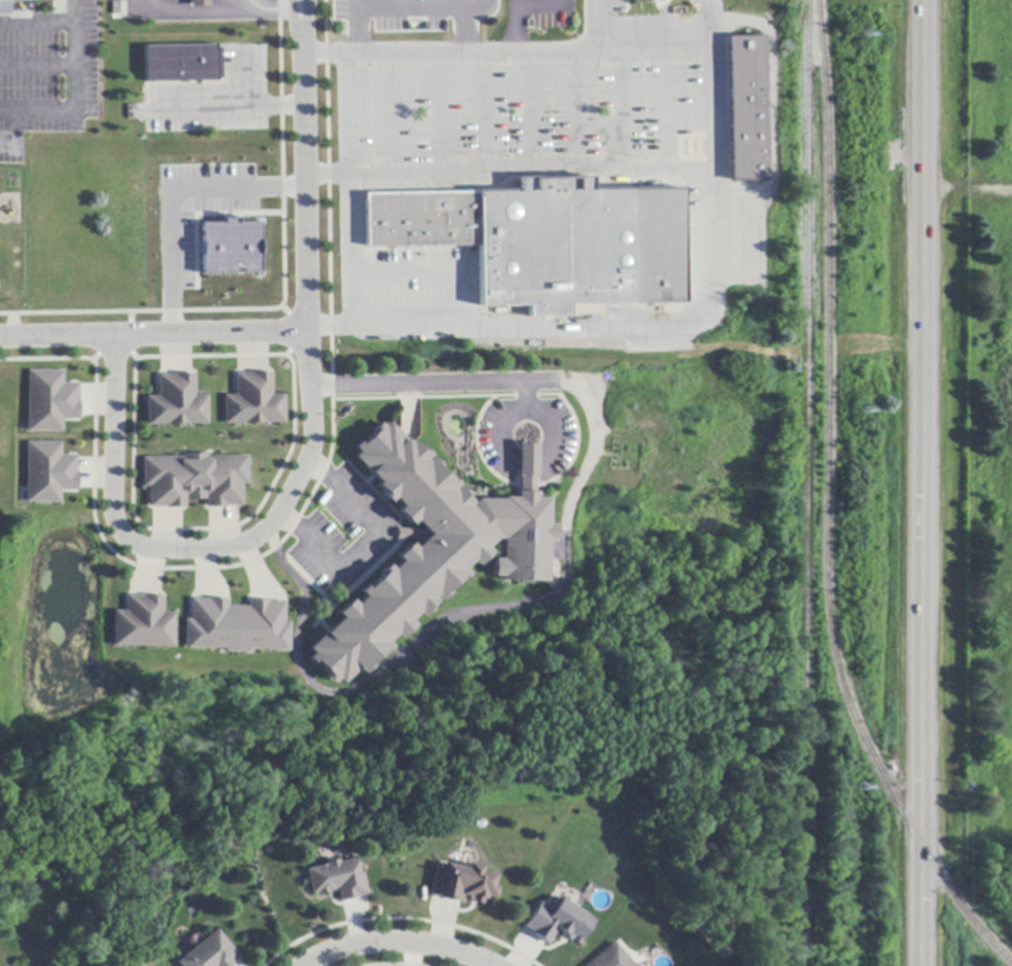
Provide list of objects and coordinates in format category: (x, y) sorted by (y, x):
building: (649, 0)
building: (197, 3)
building: (4, 7)
road: (298, 8)
road: (301, 8)
road: (432, 8)
road: (275, 9)
road: (711, 24)
road: (354, 25)
road: (514, 27)
power tower: (864, 35)
road: (475, 54)
road: (64, 62)
building: (182, 64)
parking lot: (45, 68)
road: (59, 108)
building: (747, 109)
road: (668, 111)
road: (577, 112)
road: (622, 112)
road: (484, 113)
road: (530, 113)
road: (438, 114)
road: (392, 115)
road: (626, 172)
road: (171, 197)
road: (344, 206)
building: (547, 241)
building: (226, 245)
road: (152, 333)
road: (434, 384)
building: (49, 399)
building: (253, 401)
building: (176, 402)
power tower: (862, 411)
road: (505, 416)
road: (553, 431)
road: (308, 457)
road: (526, 459)
building: (48, 471)
building: (195, 480)
railway: (807, 483)
road: (920, 483)
railway: (827, 506)
road: (360, 541)
building: (430, 548)
building: (143, 624)
building: (237, 632)
power tower: (860, 788)
building: (338, 879)
building: (462, 883)
building: (556, 920)
road: (395, 945)
building: (211, 953)
building: (610, 958)

